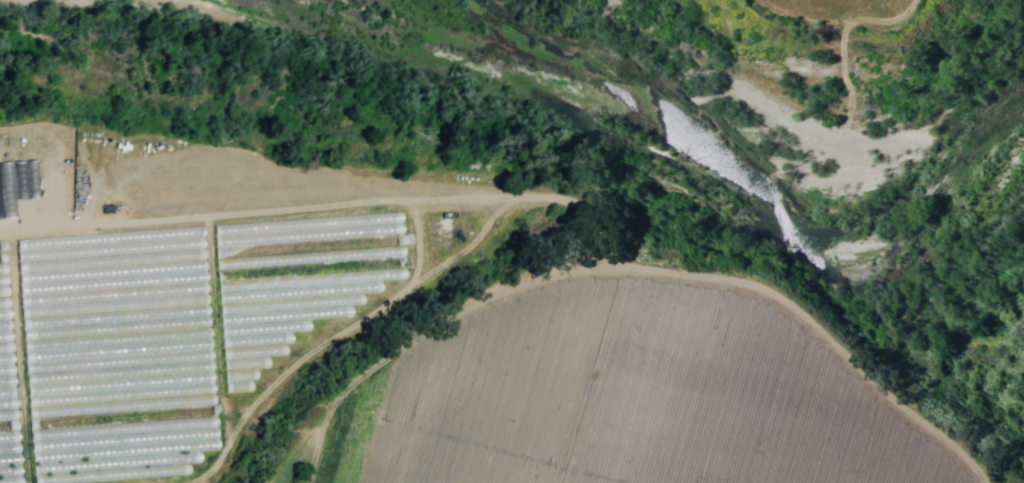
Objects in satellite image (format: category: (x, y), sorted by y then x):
river: (723, 182)
building: (11, 186)
crop: (402, 336)

